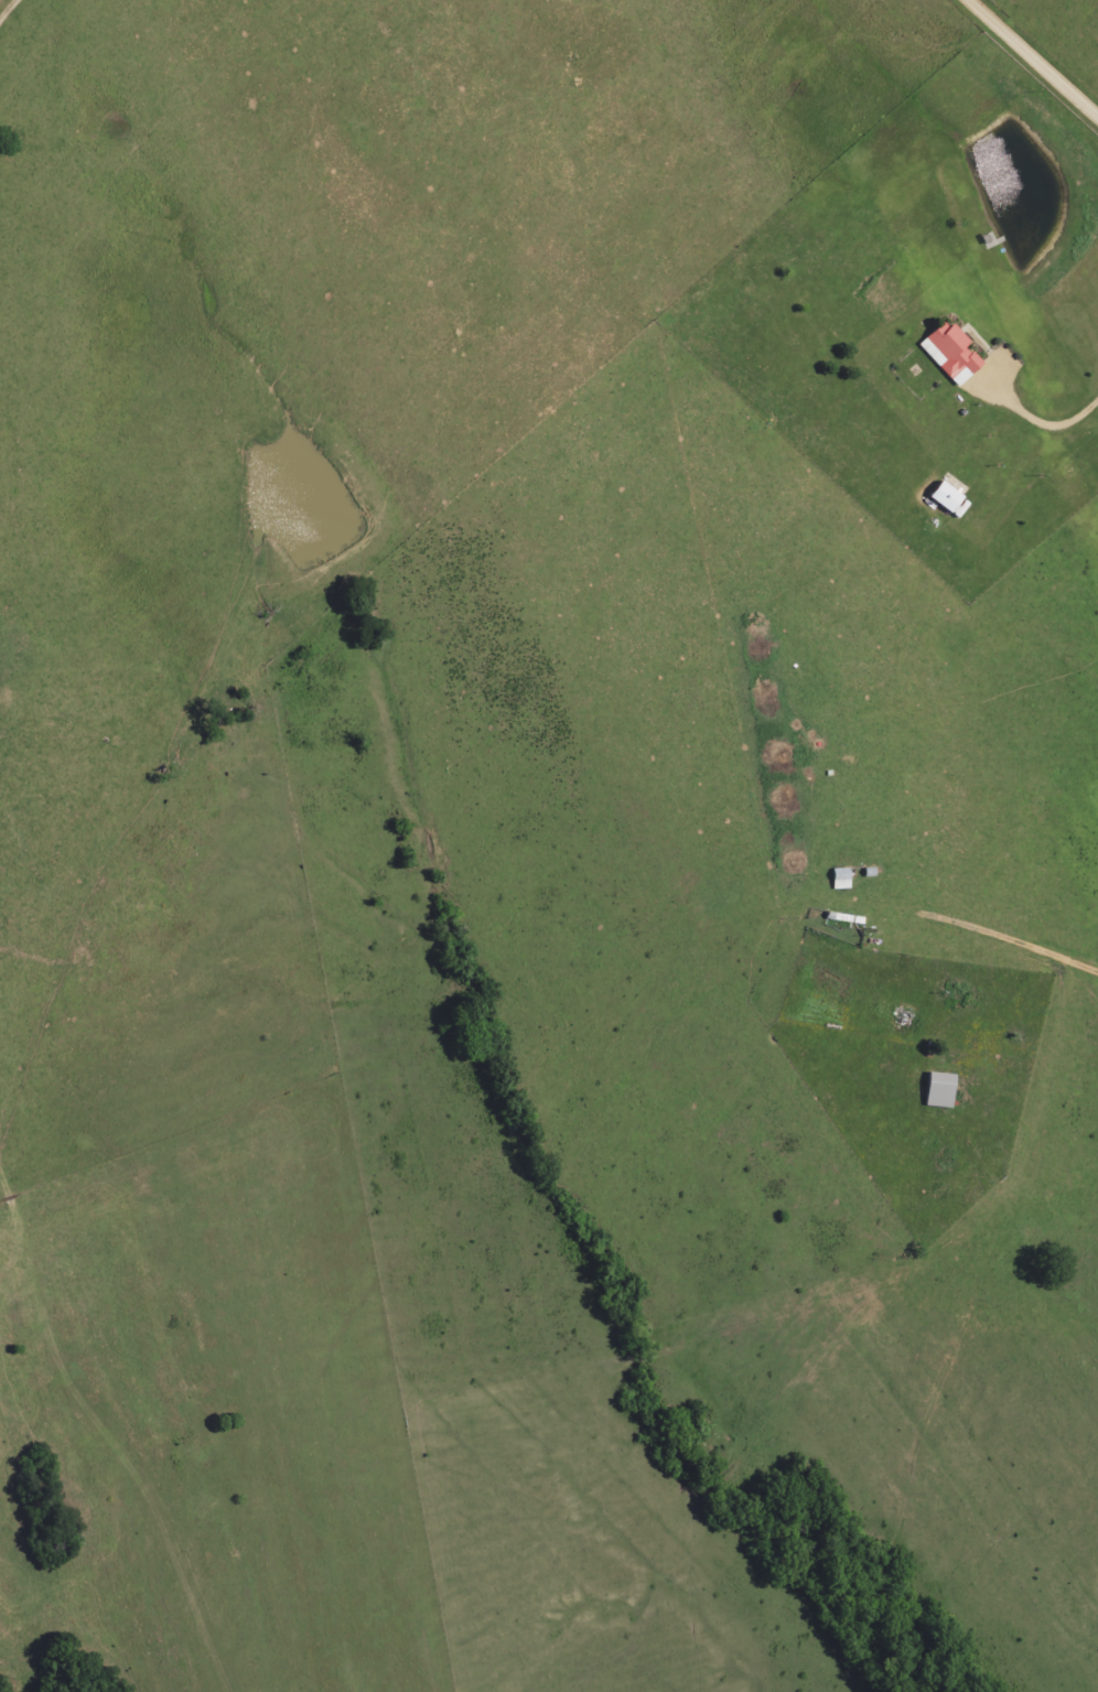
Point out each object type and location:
road: (1033, 55)
building: (949, 353)
building: (944, 496)
building: (938, 1089)
road: (1043, 1170)

